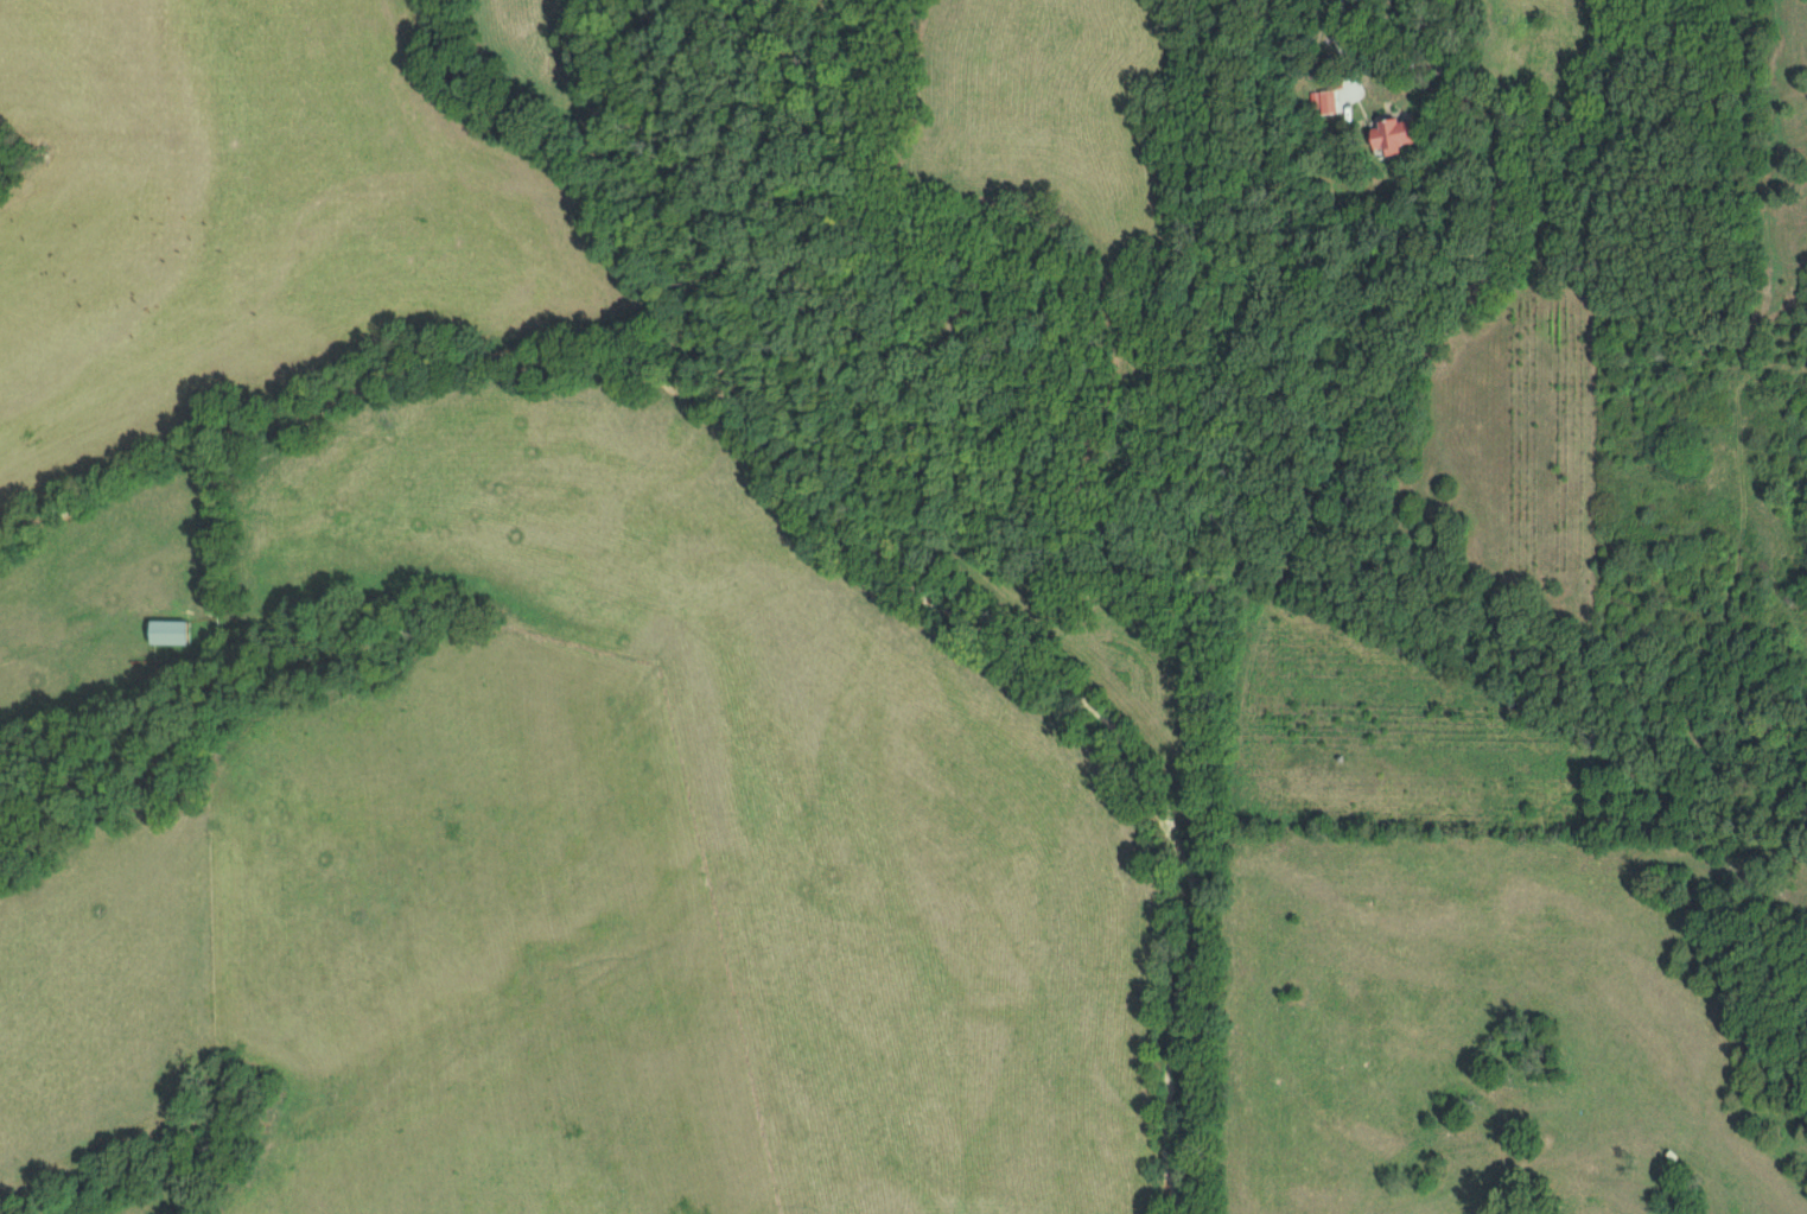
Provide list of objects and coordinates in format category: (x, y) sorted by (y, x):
road: (1316, 63)
building: (1322, 100)
building: (1388, 133)
building: (173, 630)

